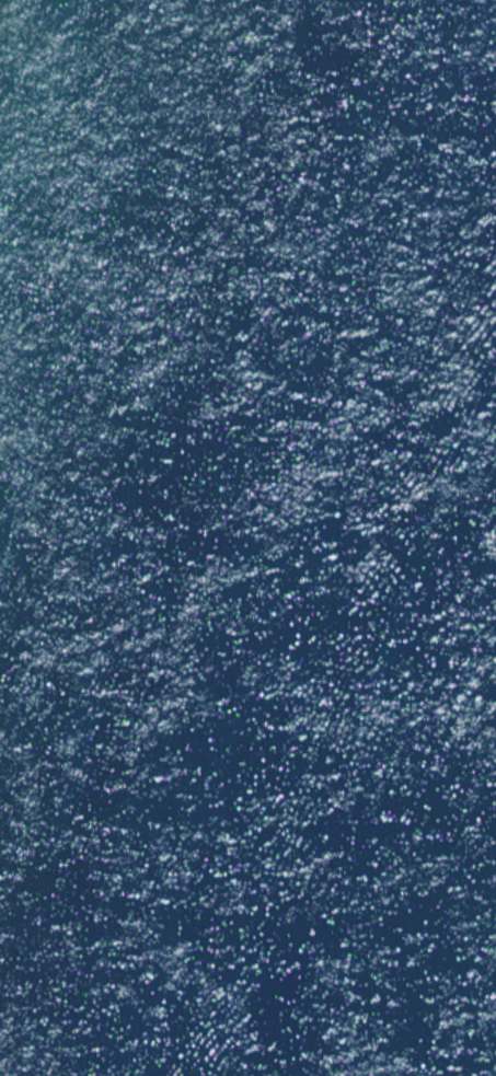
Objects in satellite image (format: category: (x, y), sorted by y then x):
river: (461, 914)

